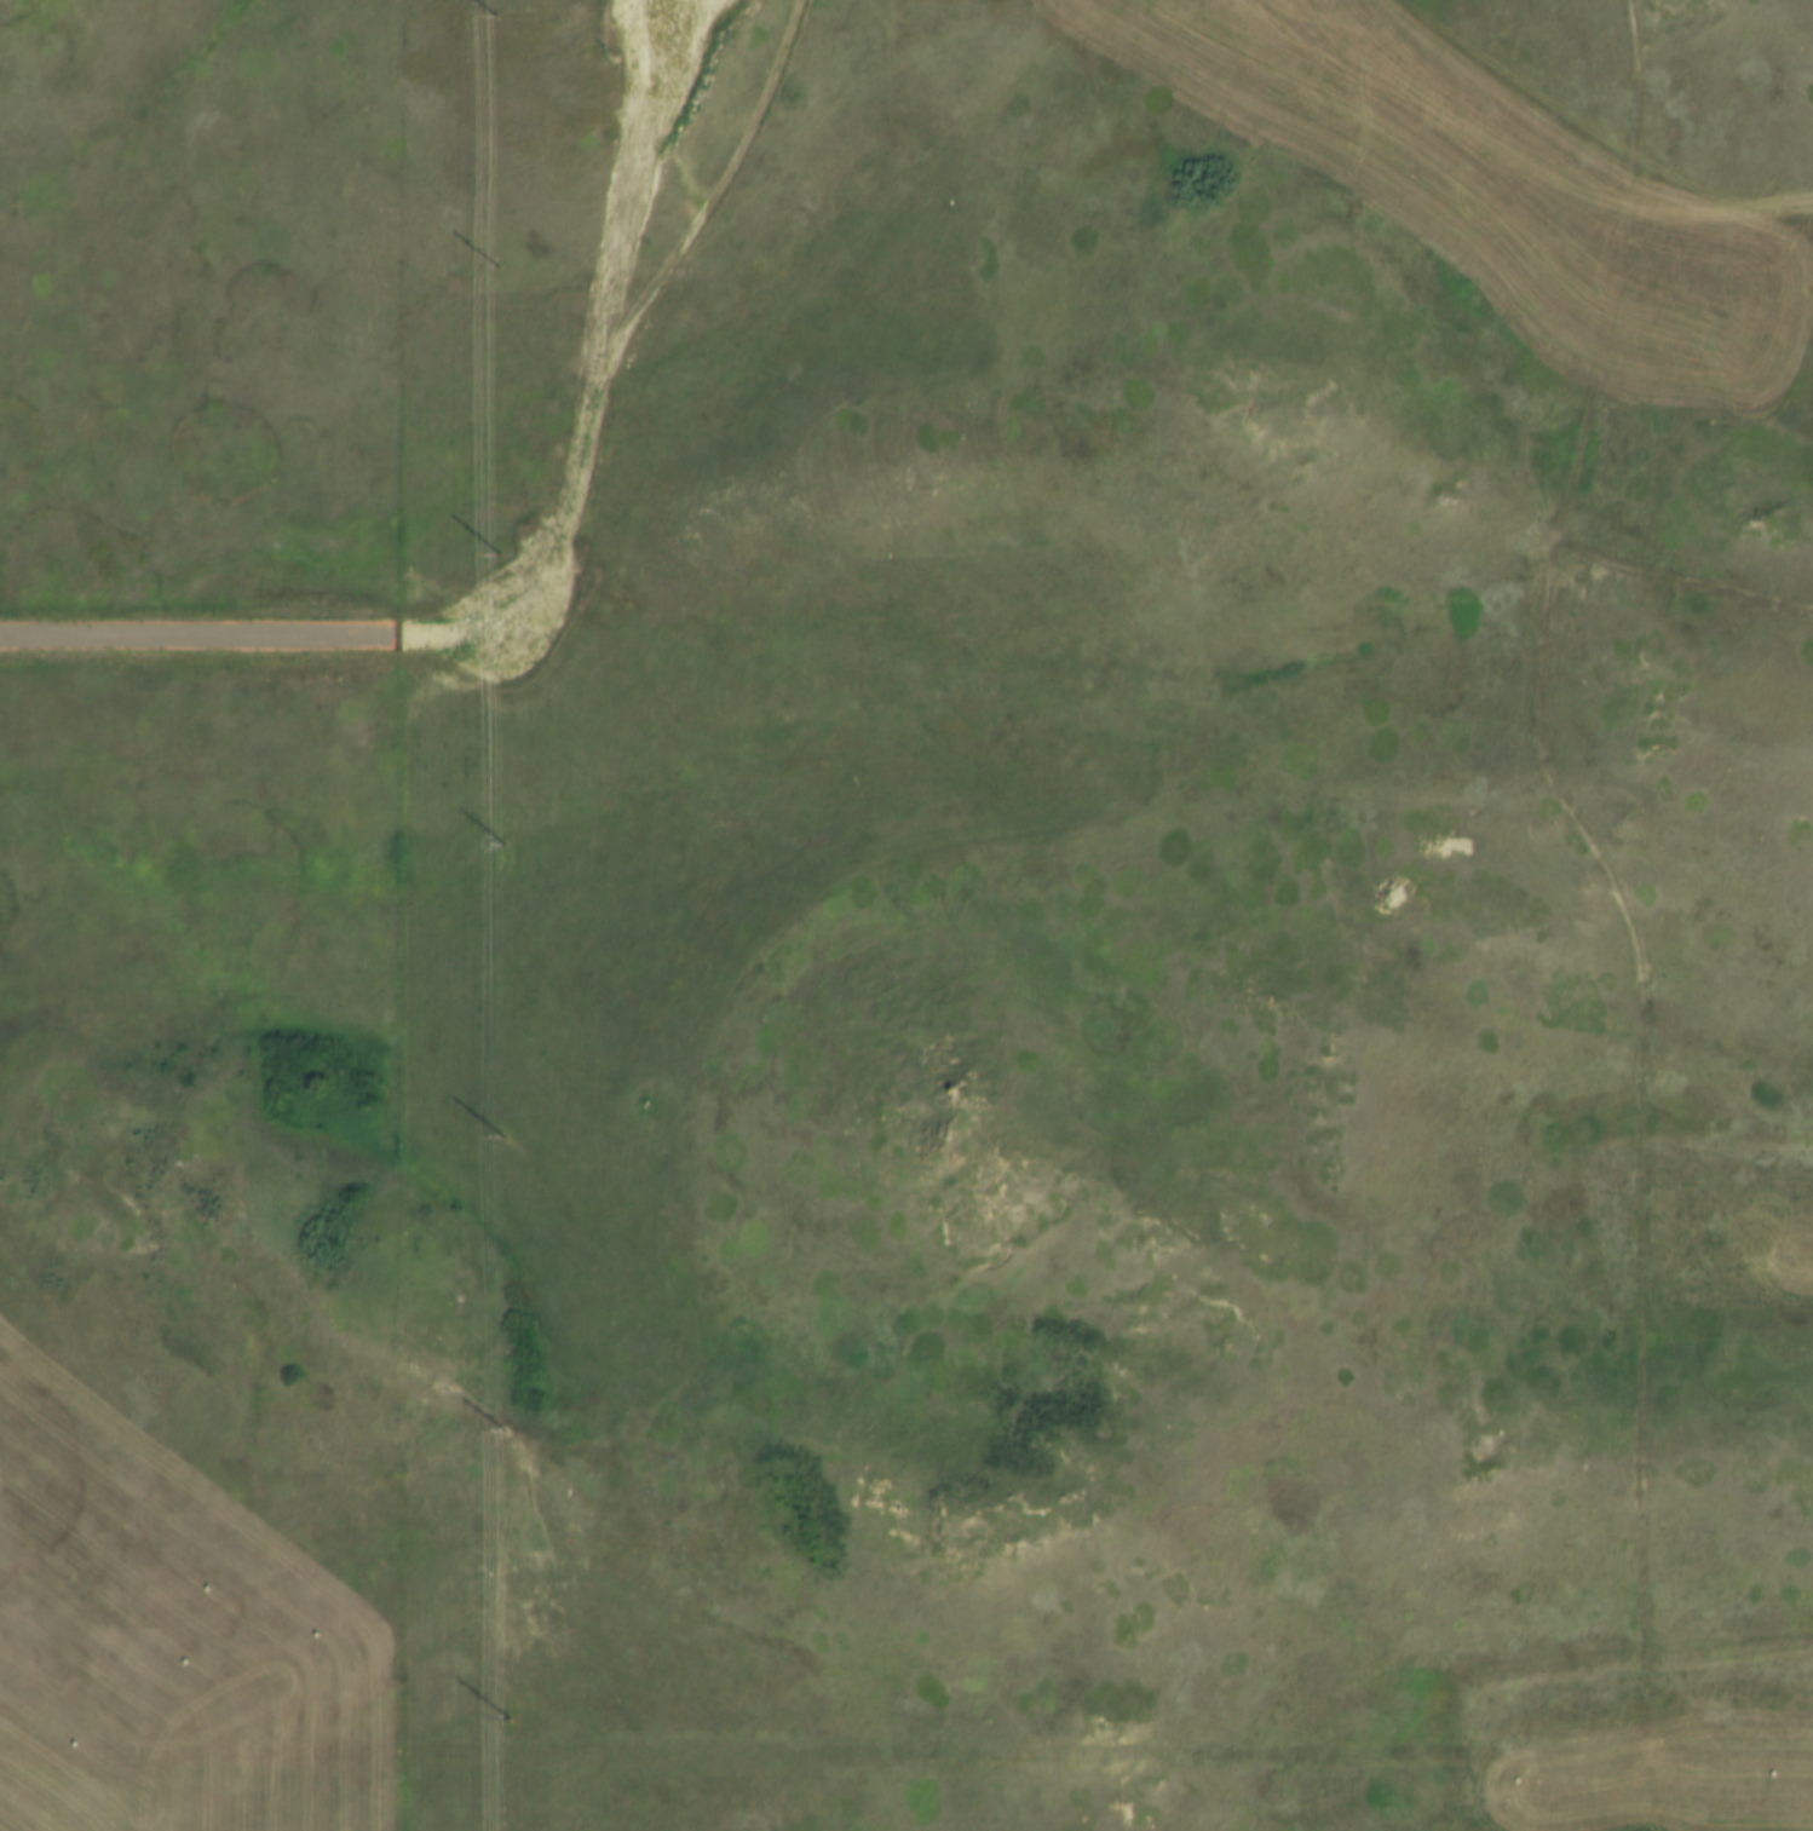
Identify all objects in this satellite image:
road: (1606, 123)

